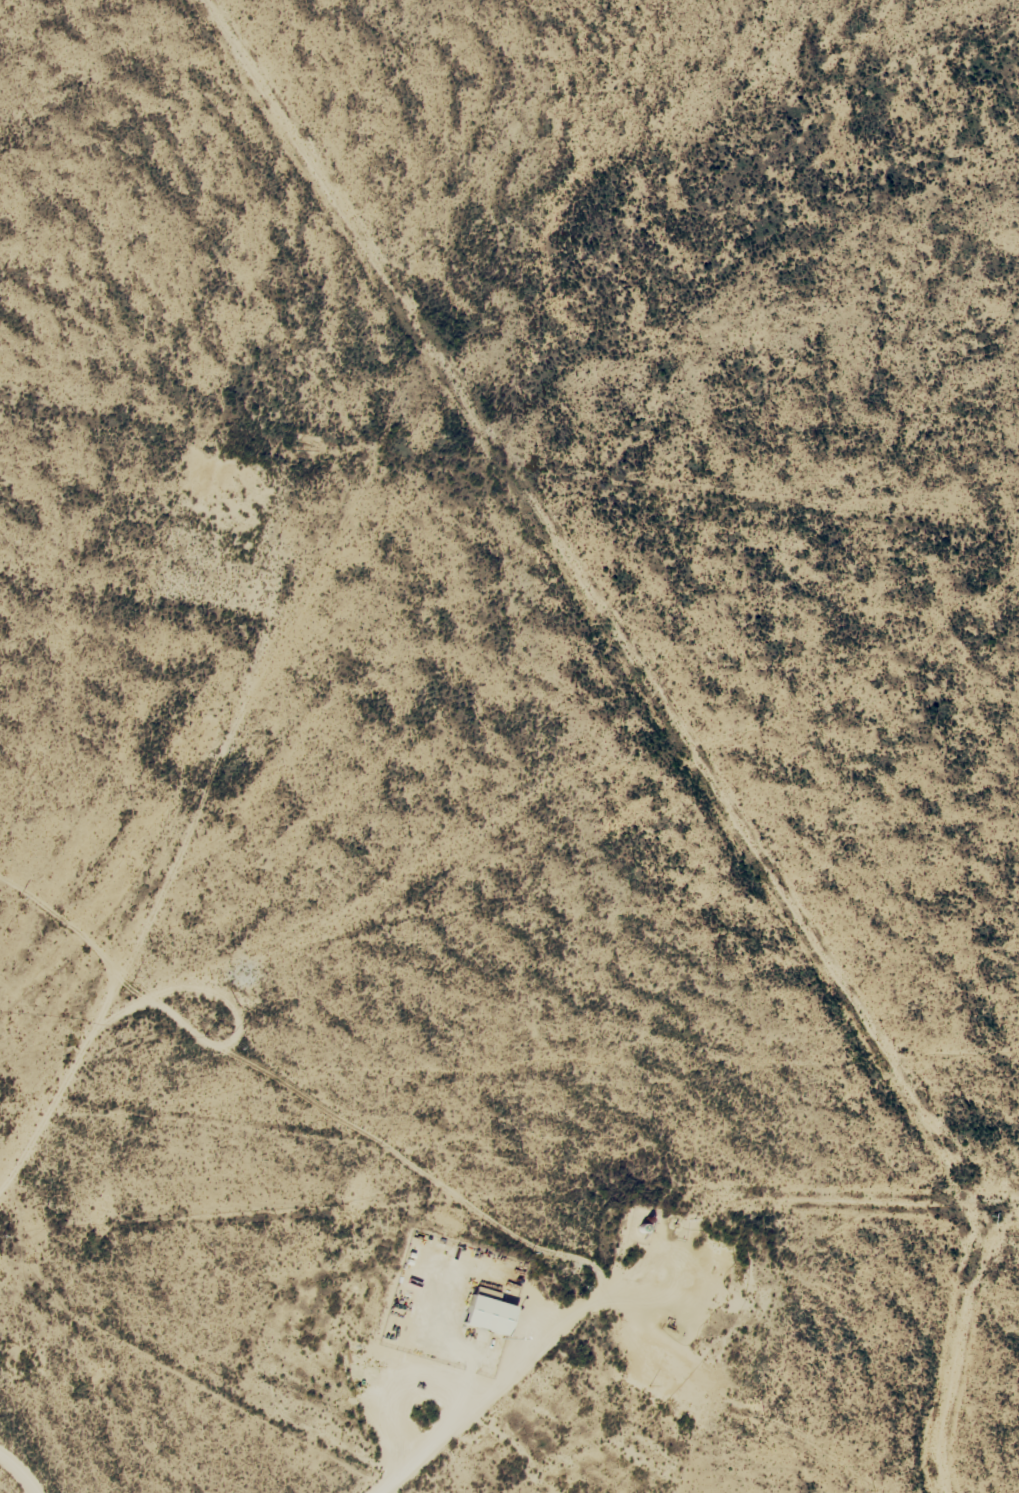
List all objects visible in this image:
building: (493, 1315)
road: (11, 1476)

